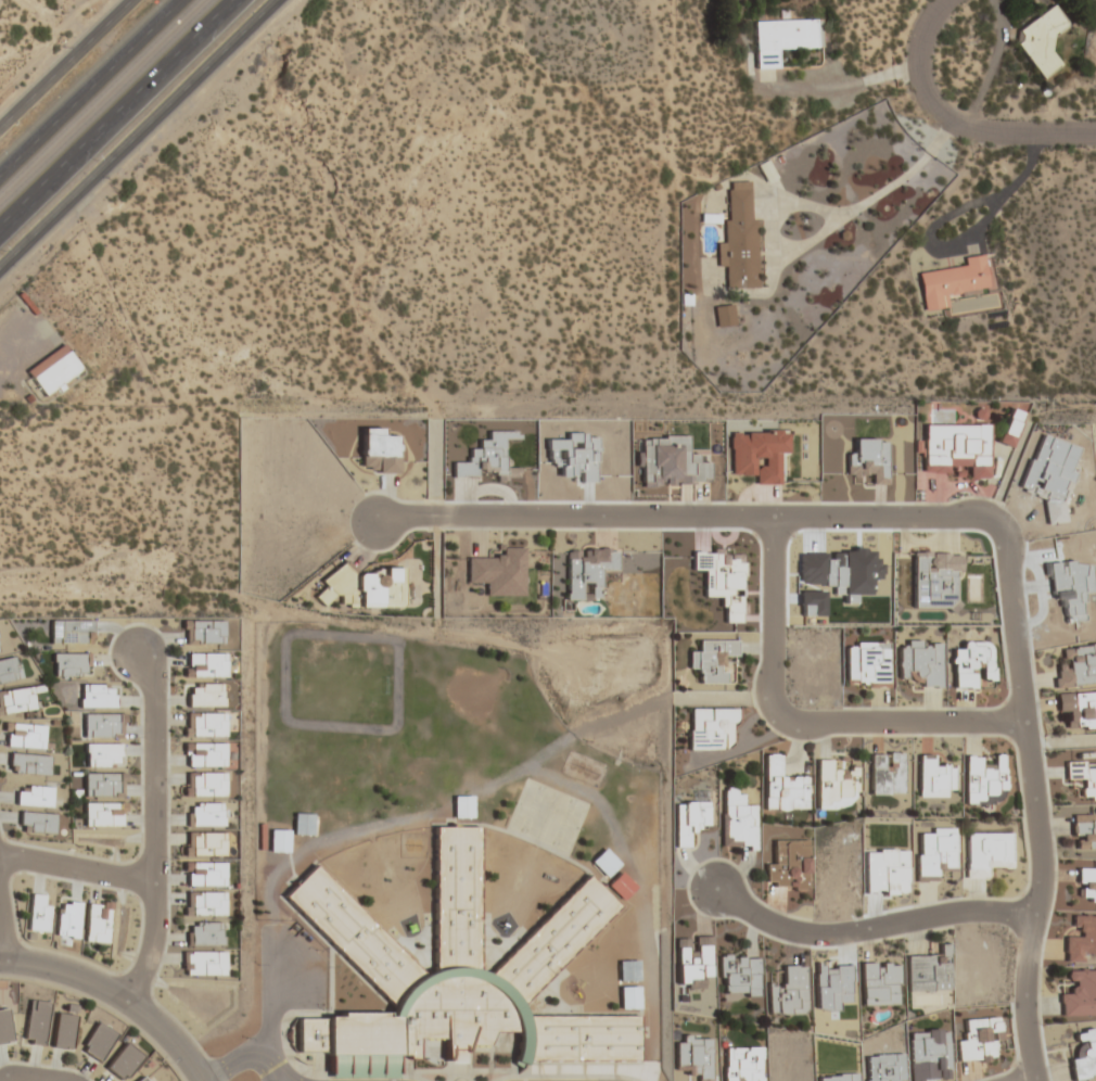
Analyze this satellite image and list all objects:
building: (783, 38)
building: (1041, 41)
road: (65, 63)
road: (86, 84)
road: (114, 112)
road: (955, 123)
road: (139, 132)
power tower: (122, 193)
building: (739, 239)
building: (951, 282)
building: (724, 316)
building: (52, 371)
building: (1008, 425)
building: (955, 449)
building: (379, 452)
building: (759, 454)
road: (974, 518)
building: (587, 571)
building: (500, 572)
building: (362, 587)
building: (71, 631)
building: (202, 632)
building: (712, 660)
building: (921, 661)
building: (867, 663)
building: (71, 664)
building: (204, 664)
building: (973, 665)
building: (1075, 666)
building: (10, 669)
building: (204, 695)
building: (97, 696)
building: (16, 700)
building: (1078, 709)
building: (102, 725)
building: (204, 725)
road: (807, 725)
building: (711, 728)
building: (24, 735)
building: (204, 753)
building: (102, 754)
building: (28, 764)
building: (887, 773)
building: (1083, 777)
building: (934, 778)
building: (204, 784)
building: (102, 785)
road: (495, 785)
building: (834, 786)
building: (782, 787)
building: (34, 796)
building: (462, 806)
building: (103, 814)
building: (205, 814)
building: (689, 821)
building: (738, 821)
building: (36, 823)
road: (161, 829)
building: (1084, 834)
building: (279, 840)
building: (204, 844)
building: (935, 853)
building: (987, 853)
building: (788, 866)
road: (80, 870)
building: (204, 874)
building: (620, 886)
road: (639, 895)
building: (205, 904)
building: (37, 914)
road: (8, 919)
building: (67, 919)
building: (97, 921)
road: (869, 929)
building: (205, 933)
building: (1081, 939)
building: (693, 961)
building: (203, 963)
building: (929, 971)
building: (458, 975)
building: (739, 975)
building: (879, 983)
building: (788, 992)
building: (1079, 994)
road: (116, 996)
building: (36, 1023)
road: (269, 1025)
building: (5, 1027)
building: (63, 1031)
building: (980, 1040)
building: (97, 1042)
building: (123, 1061)
building: (742, 1064)
road: (272, 1067)
road: (275, 1076)
building: (141, 1079)

